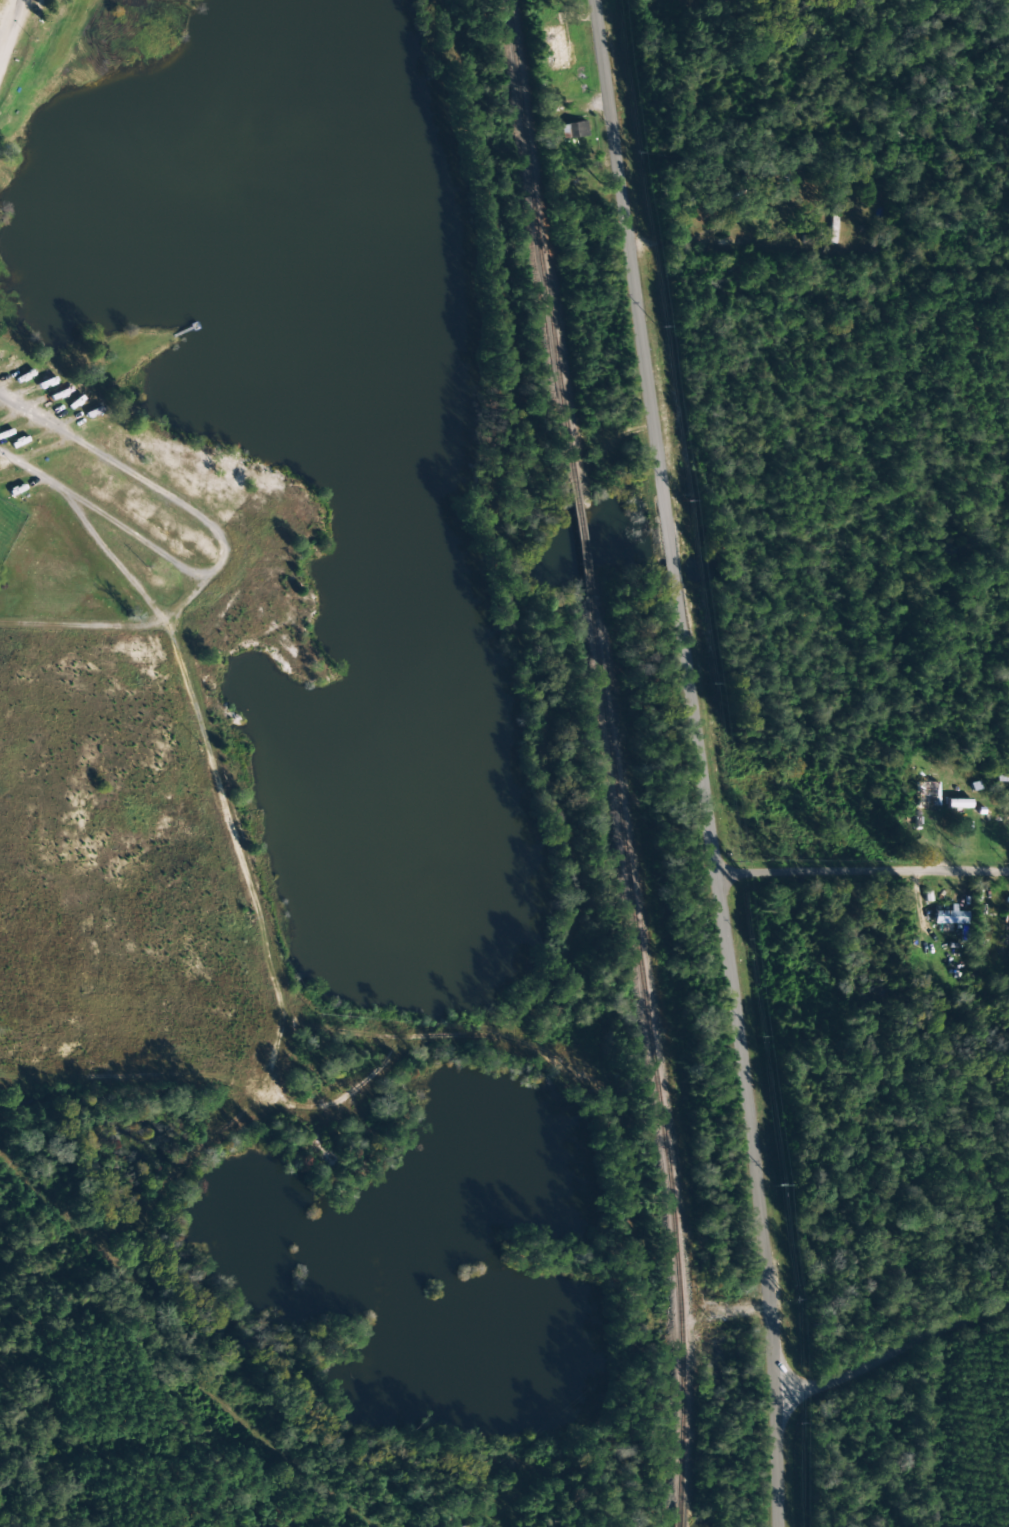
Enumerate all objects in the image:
road: (17, 26)
building: (558, 49)
building: (573, 129)
railway: (571, 474)
road: (703, 762)
building: (926, 793)
road: (241, 862)
road: (862, 867)
building: (949, 916)
railway: (670, 1227)
road: (178, 1348)
road: (892, 1355)
railway: (678, 1517)
building: (477, 1525)

